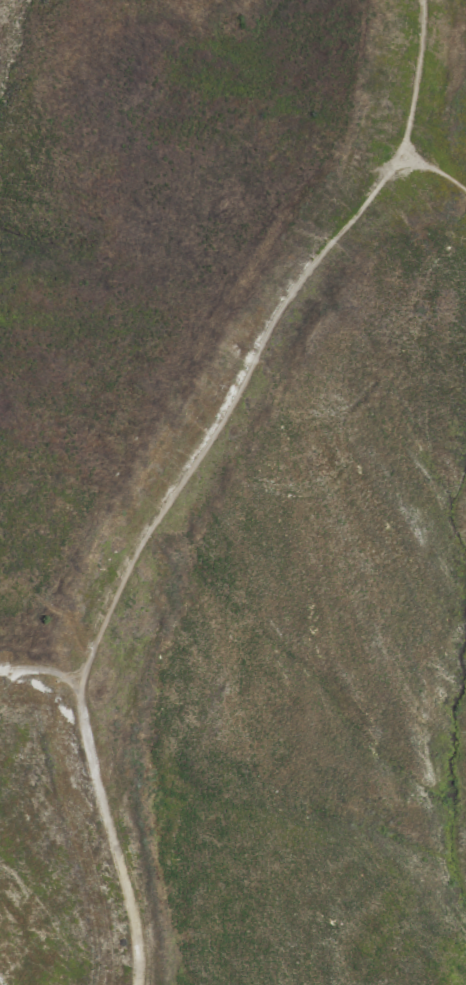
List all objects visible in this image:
road: (413, 78)
road: (437, 171)
road: (222, 408)
road: (42, 670)
road: (107, 833)

